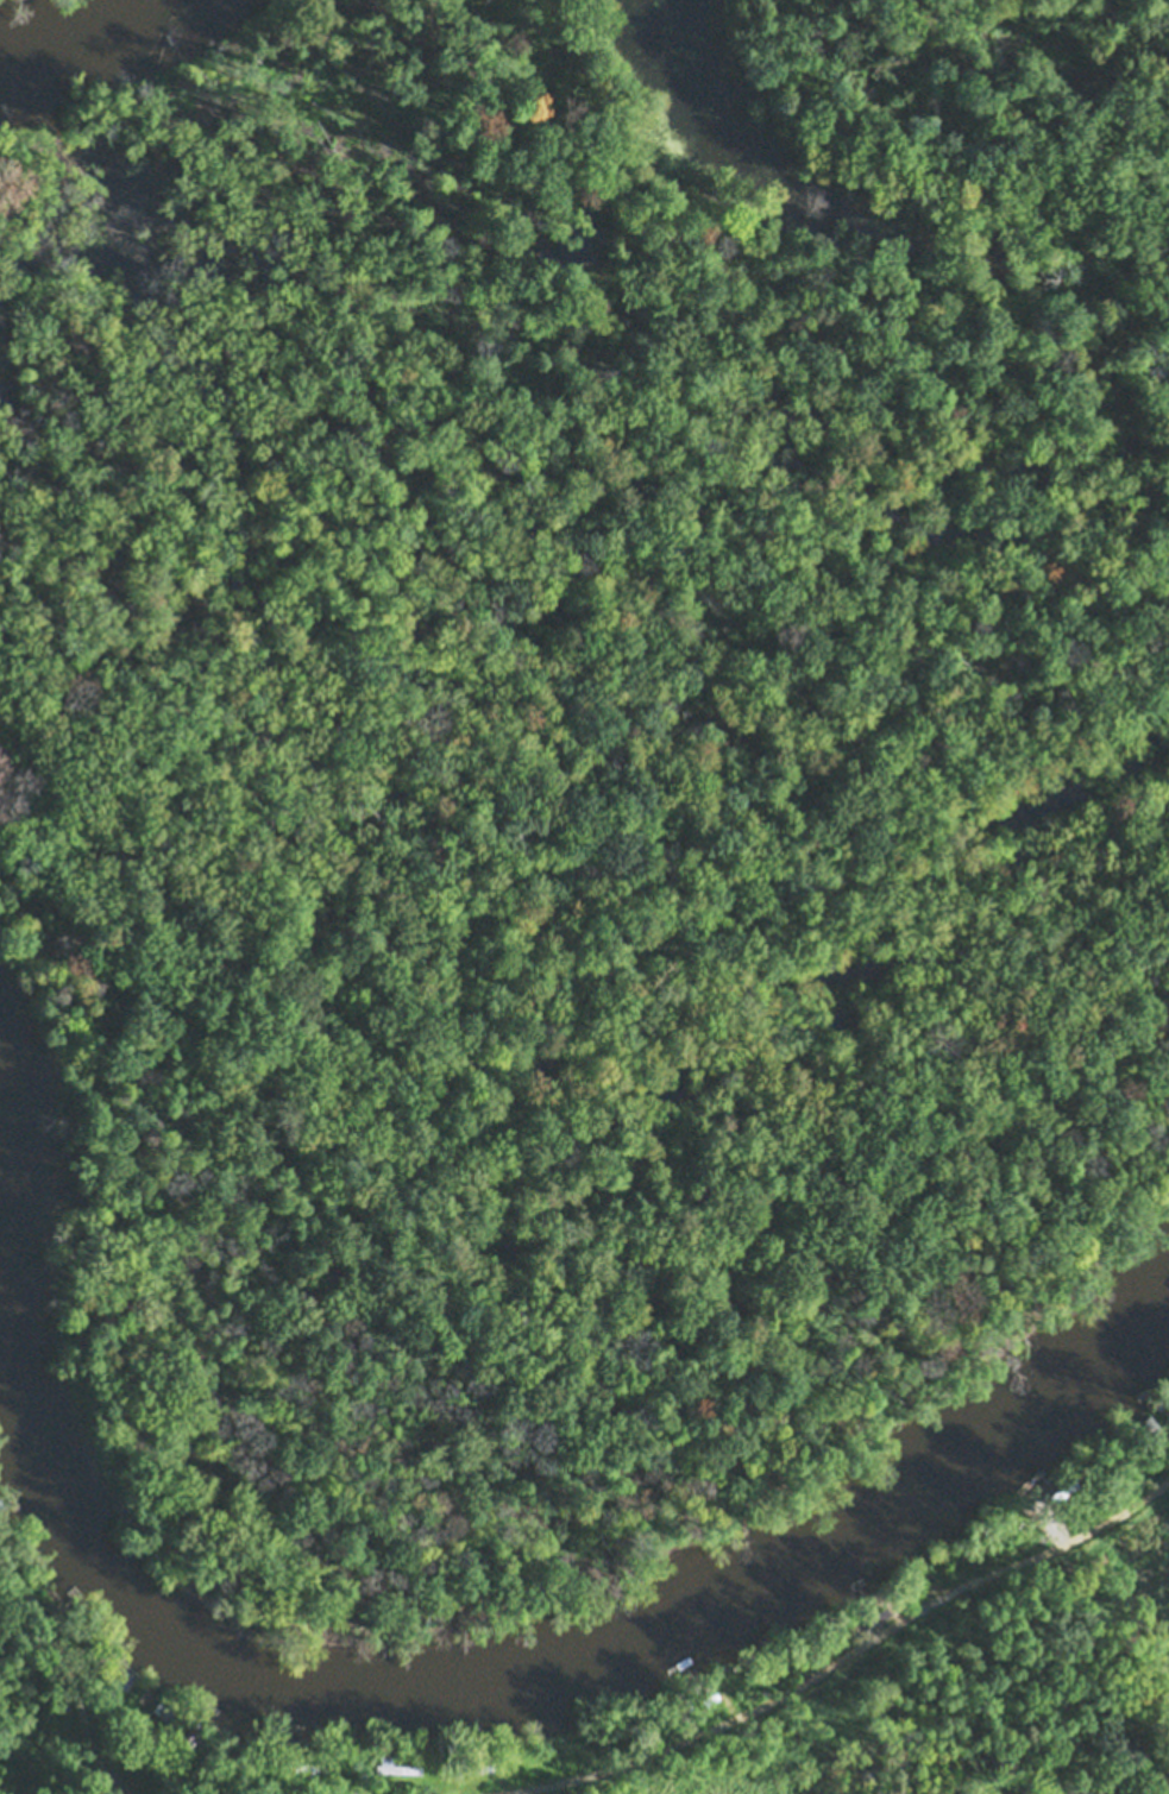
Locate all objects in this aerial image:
river: (76, 23)
building: (130, 1189)
building: (1161, 1402)
building: (1149, 1422)
building: (1067, 1486)
building: (0, 1504)
building: (74, 1591)
building: (49, 1606)
building: (876, 1613)
building: (76, 1645)
road: (832, 1660)
river: (526, 1674)
building: (122, 1676)
road: (70, 1679)
building: (710, 1697)
building: (161, 1708)
building: (187, 1730)
building: (394, 1765)
building: (482, 1767)
building: (362, 1777)

